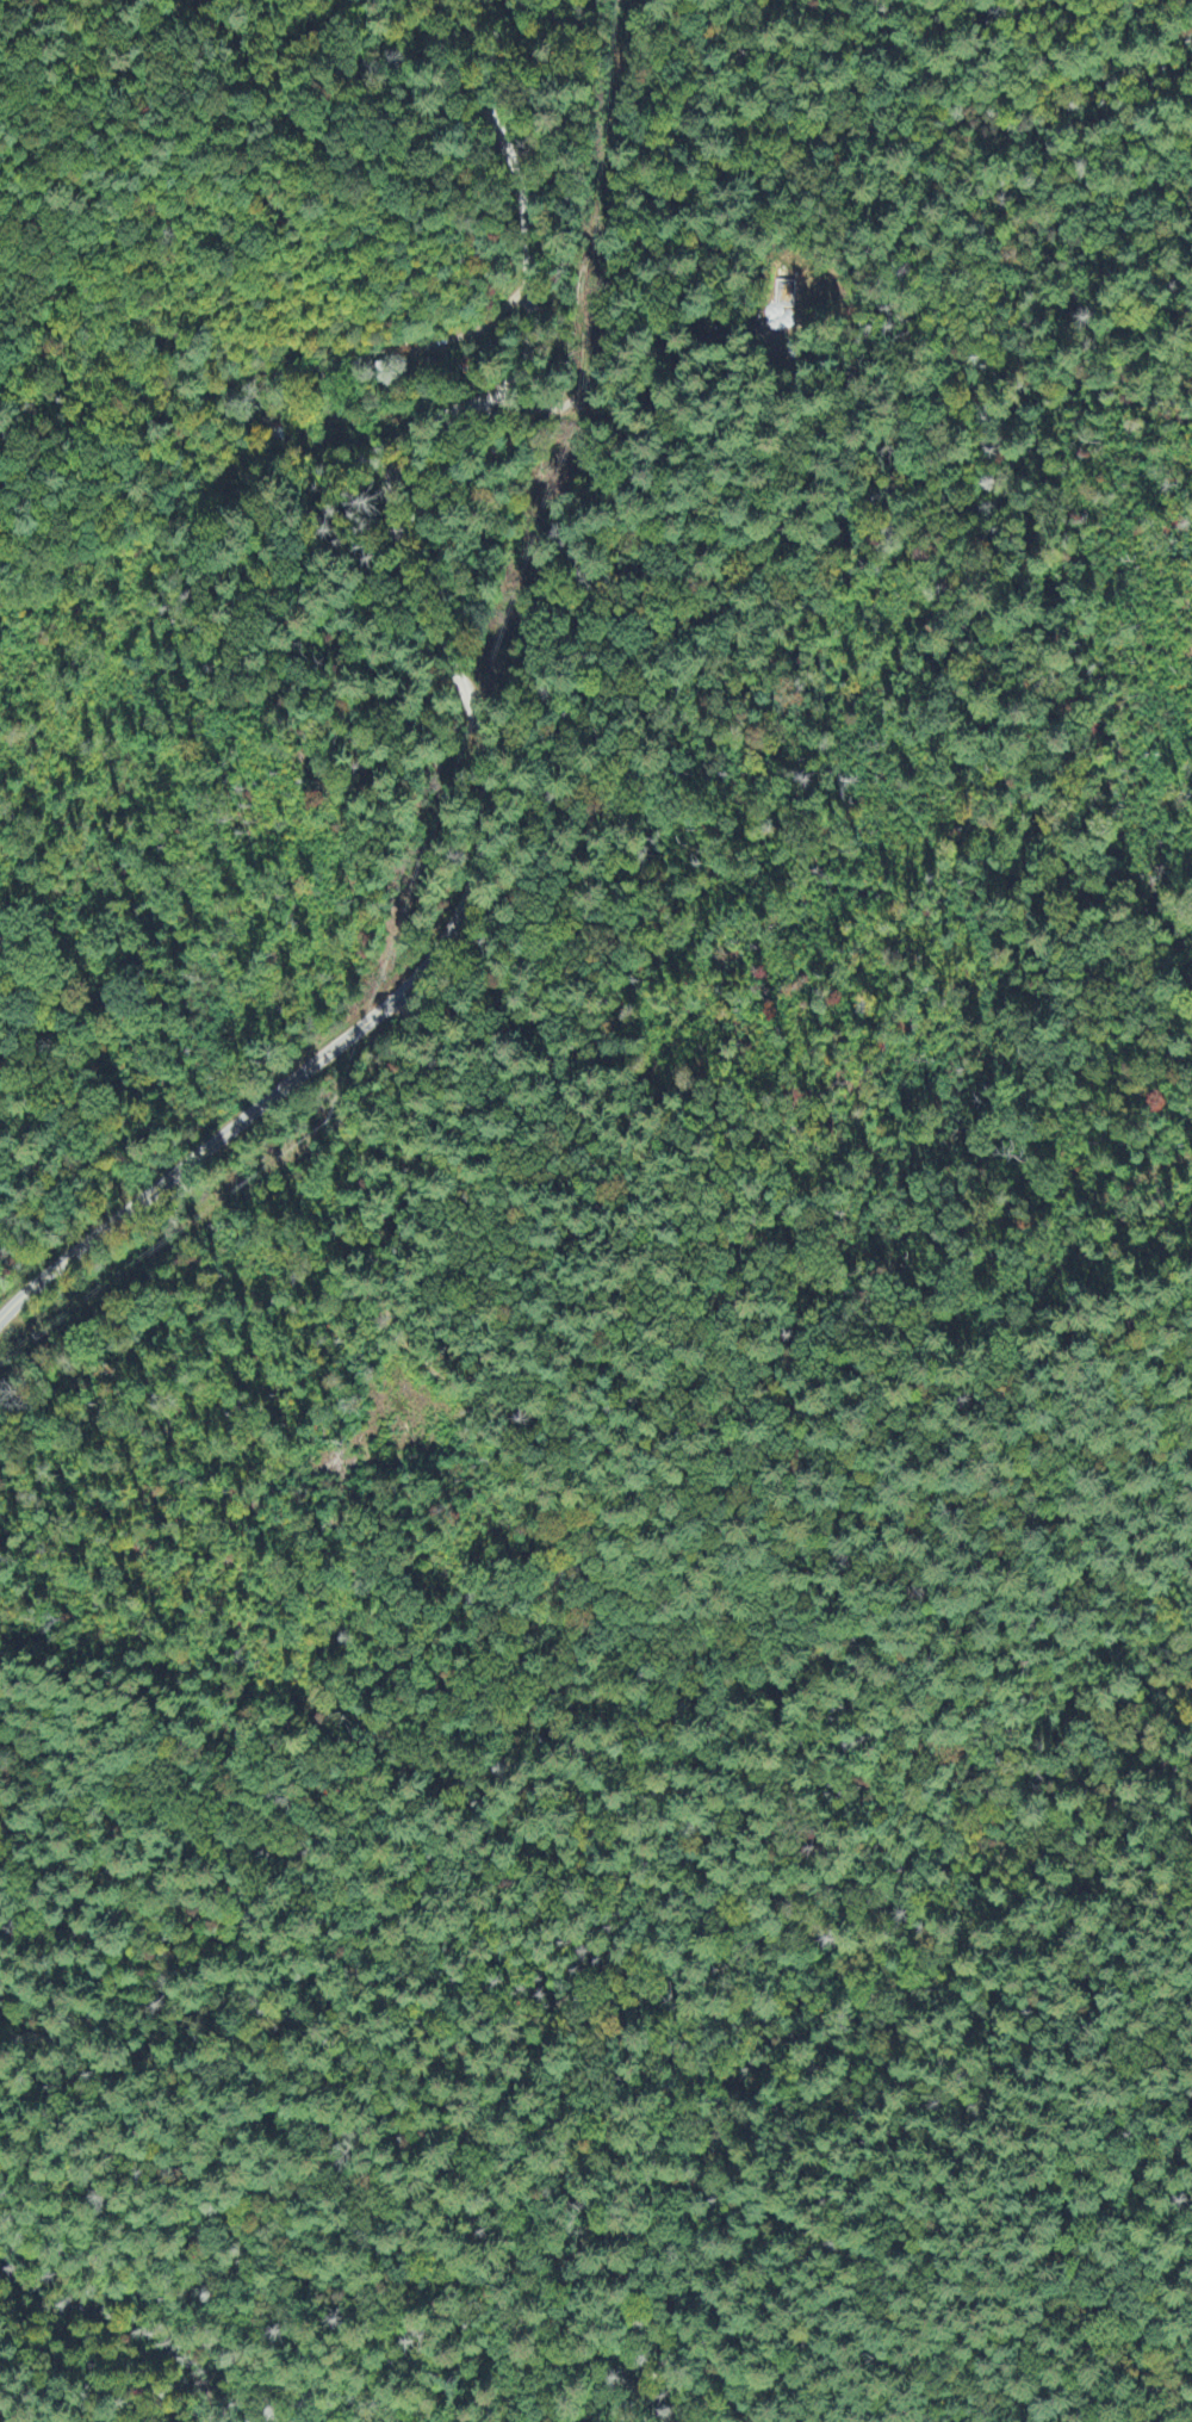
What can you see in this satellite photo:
road: (401, 464)
road: (200, 1147)

